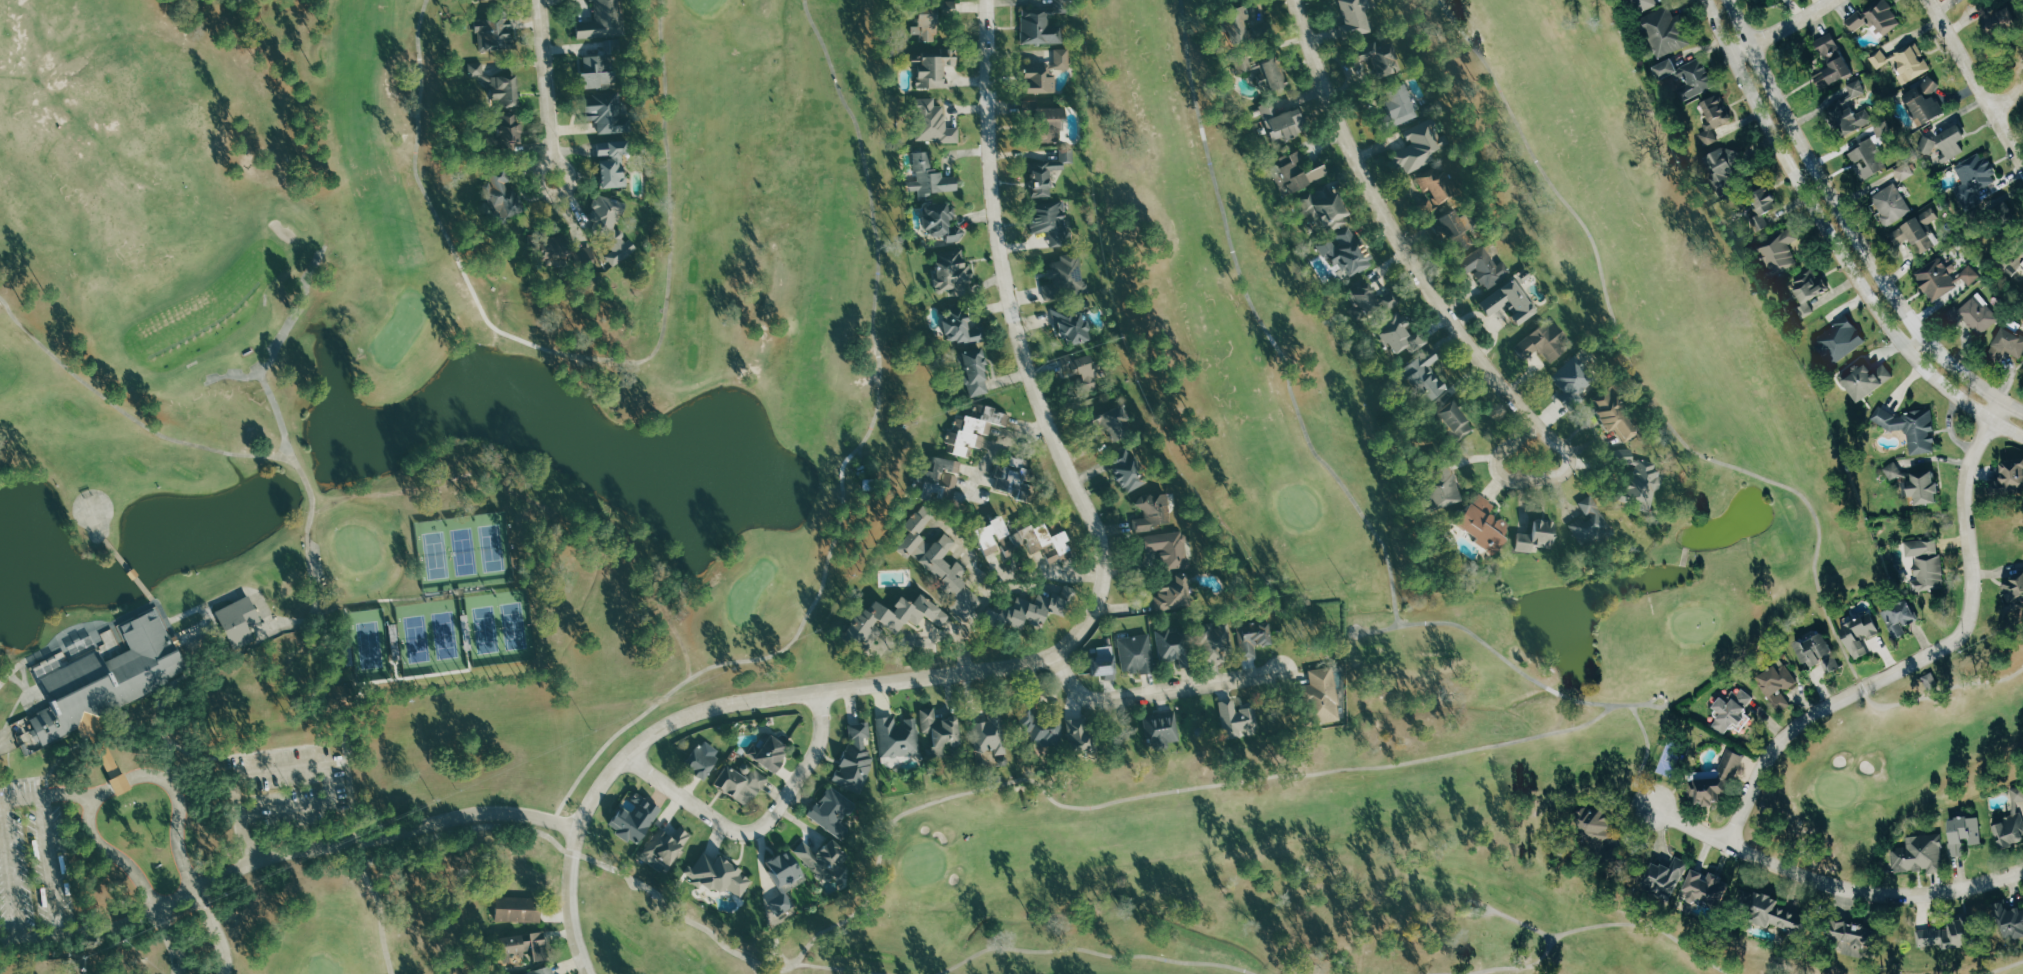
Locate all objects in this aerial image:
building: (1646, 4)
building: (950, 8)
building: (1356, 17)
building: (1885, 17)
building: (604, 20)
building: (1856, 21)
road: (1796, 23)
building: (928, 24)
building: (1239, 24)
building: (1041, 26)
building: (1667, 31)
building: (493, 33)
road: (1748, 51)
building: (1379, 57)
building: (1879, 58)
building: (1911, 63)
building: (1244, 64)
building: (1834, 65)
building: (600, 67)
building: (936, 67)
building: (1669, 68)
building: (477, 69)
building: (1275, 73)
road: (1980, 73)
building: (1697, 79)
building: (505, 91)
road: (554, 94)
building: (1030, 100)
building: (1927, 102)
road: (2012, 104)
building: (1400, 105)
building: (1852, 109)
building: (608, 111)
building: (1715, 118)
building: (932, 122)
building: (1283, 122)
building: (509, 129)
building: (1952, 142)
building: (1419, 147)
building: (1869, 159)
building: (612, 164)
building: (1723, 169)
building: (1301, 170)
building: (1906, 171)
building: (1048, 172)
building: (931, 177)
building: (1976, 177)
building: (1438, 187)
building: (503, 197)
building: (1892, 204)
building: (1327, 207)
building: (1765, 208)
building: (1052, 221)
building: (942, 222)
road: (1853, 227)
building: (615, 229)
building: (1457, 231)
building: (1920, 232)
road: (1840, 238)
road: (1406, 246)
building: (1780, 251)
building: (566, 252)
building: (1345, 252)
building: (1487, 270)
building: (954, 274)
building: (1065, 277)
building: (1944, 277)
building: (1809, 288)
building: (1363, 298)
building: (1391, 300)
building: (1511, 302)
building: (1975, 315)
building: (1071, 325)
building: (959, 326)
building: (1400, 334)
building: (1842, 340)
building: (1546, 342)
building: (2009, 343)
building: (975, 370)
building: (1081, 371)
building: (1427, 375)
building: (1869, 379)
building: (1574, 380)
building: (1617, 416)
building: (1112, 420)
building: (1457, 420)
building: (1914, 428)
road: (1947, 428)
building: (975, 431)
road: (998, 441)
building: (1127, 469)
building: (1894, 471)
building: (1016, 478)
road: (1501, 478)
building: (1640, 478)
building: (2009, 478)
building: (940, 479)
building: (1443, 489)
building: (1153, 512)
building: (1590, 523)
building: (1485, 525)
building: (992, 535)
building: (1538, 536)
building: (1039, 546)
building: (1170, 548)
building: (941, 563)
building: (1927, 564)
road: (1056, 574)
building: (2013, 592)
building: (1175, 593)
road: (981, 602)
building: (1027, 612)
building: (895, 617)
building: (1901, 618)
building: (239, 621)
building: (1861, 635)
building: (1255, 637)
building: (1215, 641)
building: (1173, 646)
road: (1062, 654)
building: (1137, 654)
building: (1819, 654)
road: (1919, 661)
building: (1105, 667)
building: (104, 677)
building: (1779, 685)
road: (1162, 692)
building: (1323, 697)
building: (1734, 711)
building: (1237, 720)
building: (1163, 729)
building: (941, 730)
building: (1043, 731)
building: (990, 735)
building: (1079, 735)
building: (899, 738)
road: (2, 746)
road: (817, 748)
building: (770, 754)
building: (109, 759)
building: (703, 759)
building: (856, 759)
road: (295, 765)
road: (132, 777)
building: (121, 783)
building: (741, 783)
building: (1720, 783)
parking lot: (280, 788)
road: (49, 791)
road: (709, 811)
building: (834, 812)
building: (636, 820)
building: (2012, 823)
building: (1598, 830)
building: (1964, 835)
road: (311, 854)
building: (1920, 855)
building: (825, 859)
road: (47, 864)
road: (9, 869)
building: (785, 870)
building: (719, 875)
building: (1667, 877)
road: (1838, 887)
building: (1709, 888)
building: (782, 904)
building: (518, 909)
building: (1782, 916)
building: (2009, 922)
road: (26, 938)
building: (1861, 942)
building: (520, 948)
building: (542, 970)

